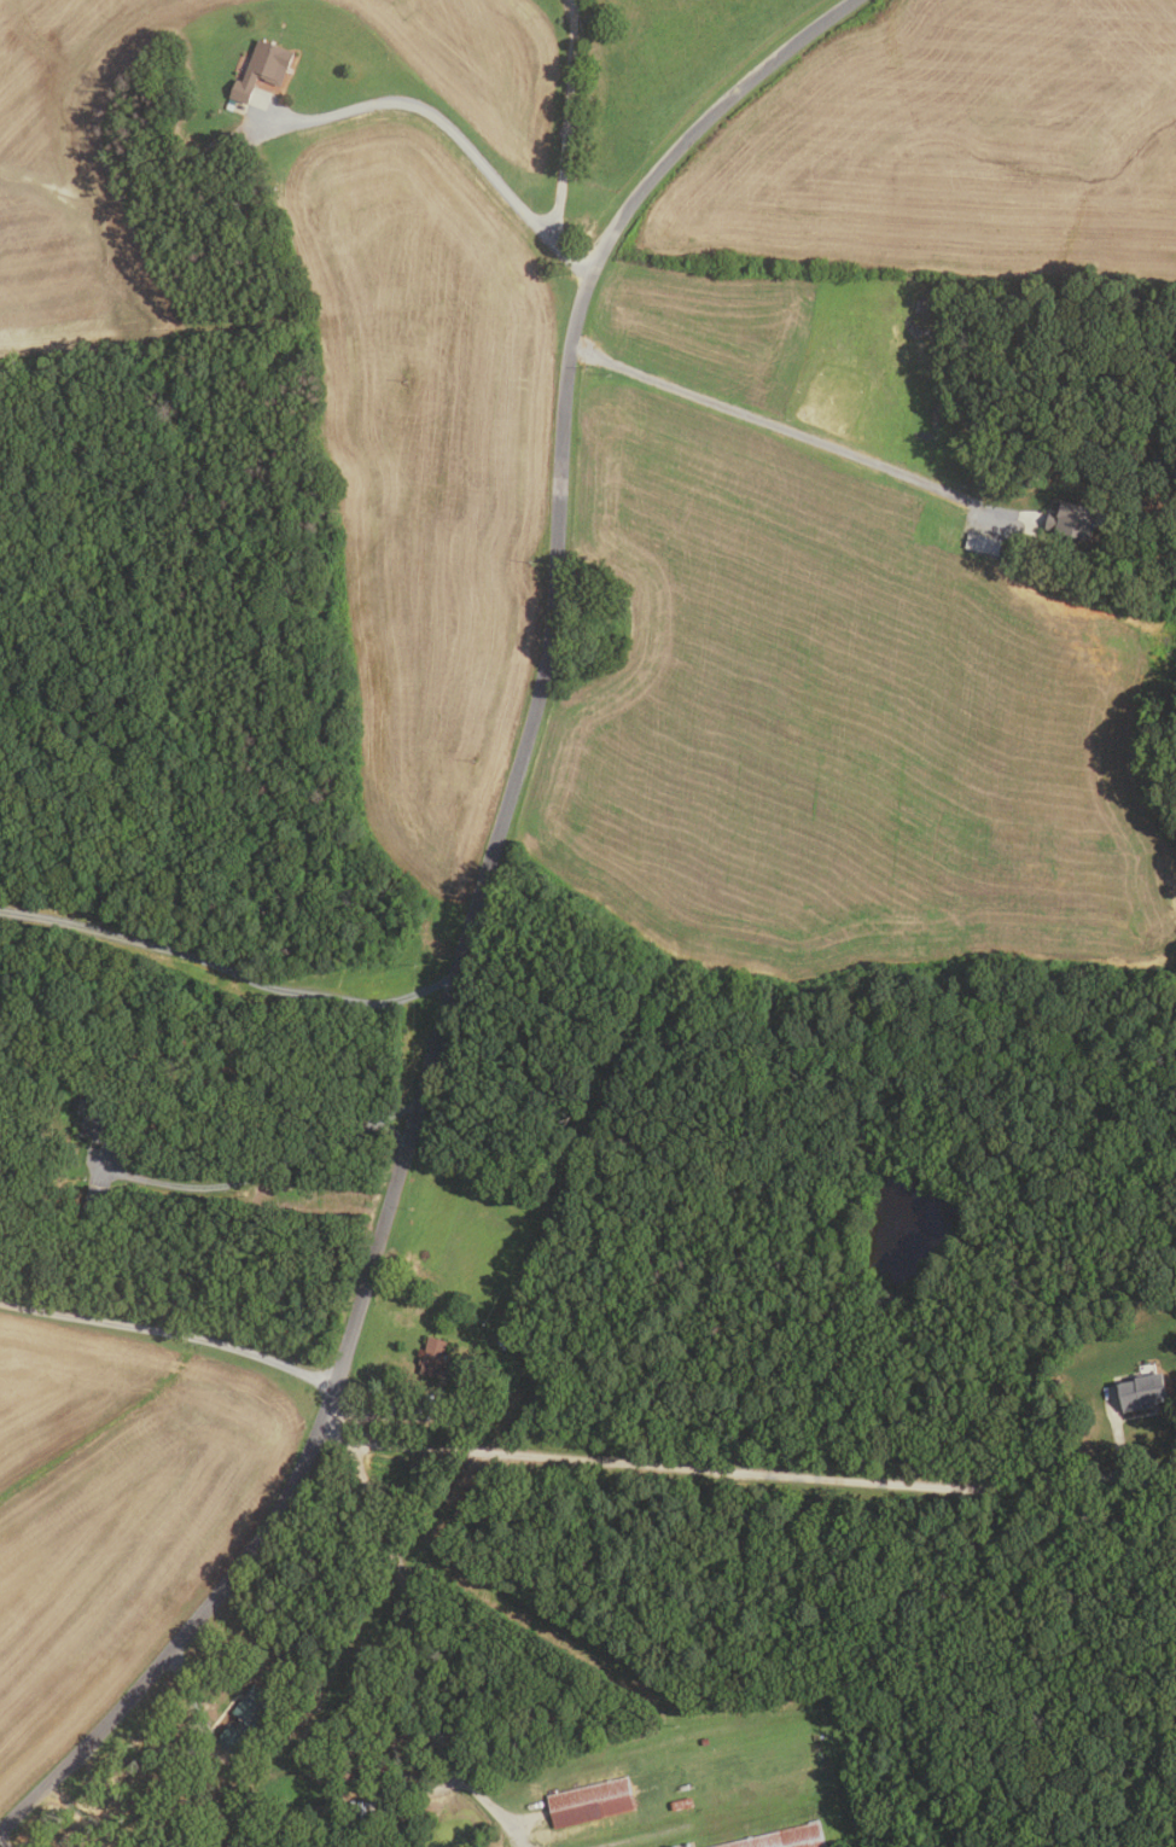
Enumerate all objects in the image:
building: (261, 69)
road: (433, 111)
road: (583, 118)
building: (210, 153)
road: (566, 255)
road: (797, 423)
building: (1105, 448)
building: (1071, 520)
building: (982, 543)
road: (472, 921)
road: (228, 969)
building: (93, 1114)
road: (384, 1118)
building: (35, 1125)
road: (248, 1177)
building: (94, 1198)
road: (170, 1330)
building: (499, 1338)
building: (431, 1357)
building: (1139, 1391)
road: (384, 1412)
road: (1117, 1435)
road: (745, 1468)
crop: (110, 1514)
road: (415, 1643)
road: (193, 1700)
building: (249, 1715)
building: (704, 1742)
building: (383, 1762)
building: (589, 1802)
building: (680, 1804)
building: (384, 1810)
building: (360, 1813)
building: (782, 1837)
road: (1, 1845)

